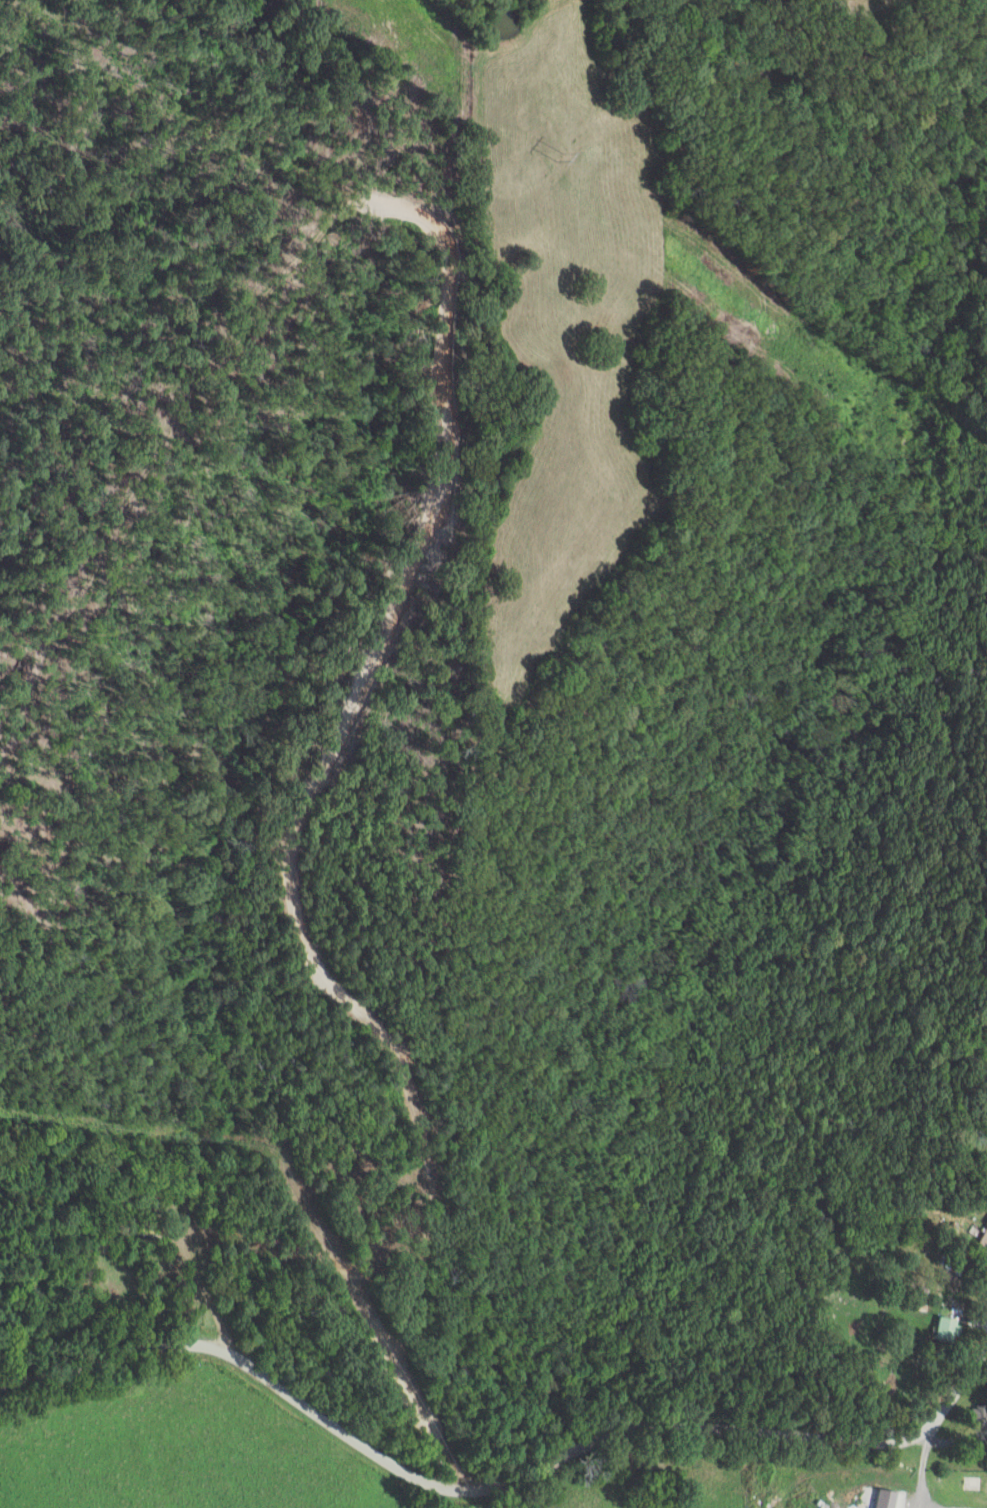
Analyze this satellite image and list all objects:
power tower: (563, 161)
building: (983, 1241)
road: (982, 1264)
building: (952, 1270)
building: (948, 1330)
building: (981, 1415)
road: (497, 1481)

